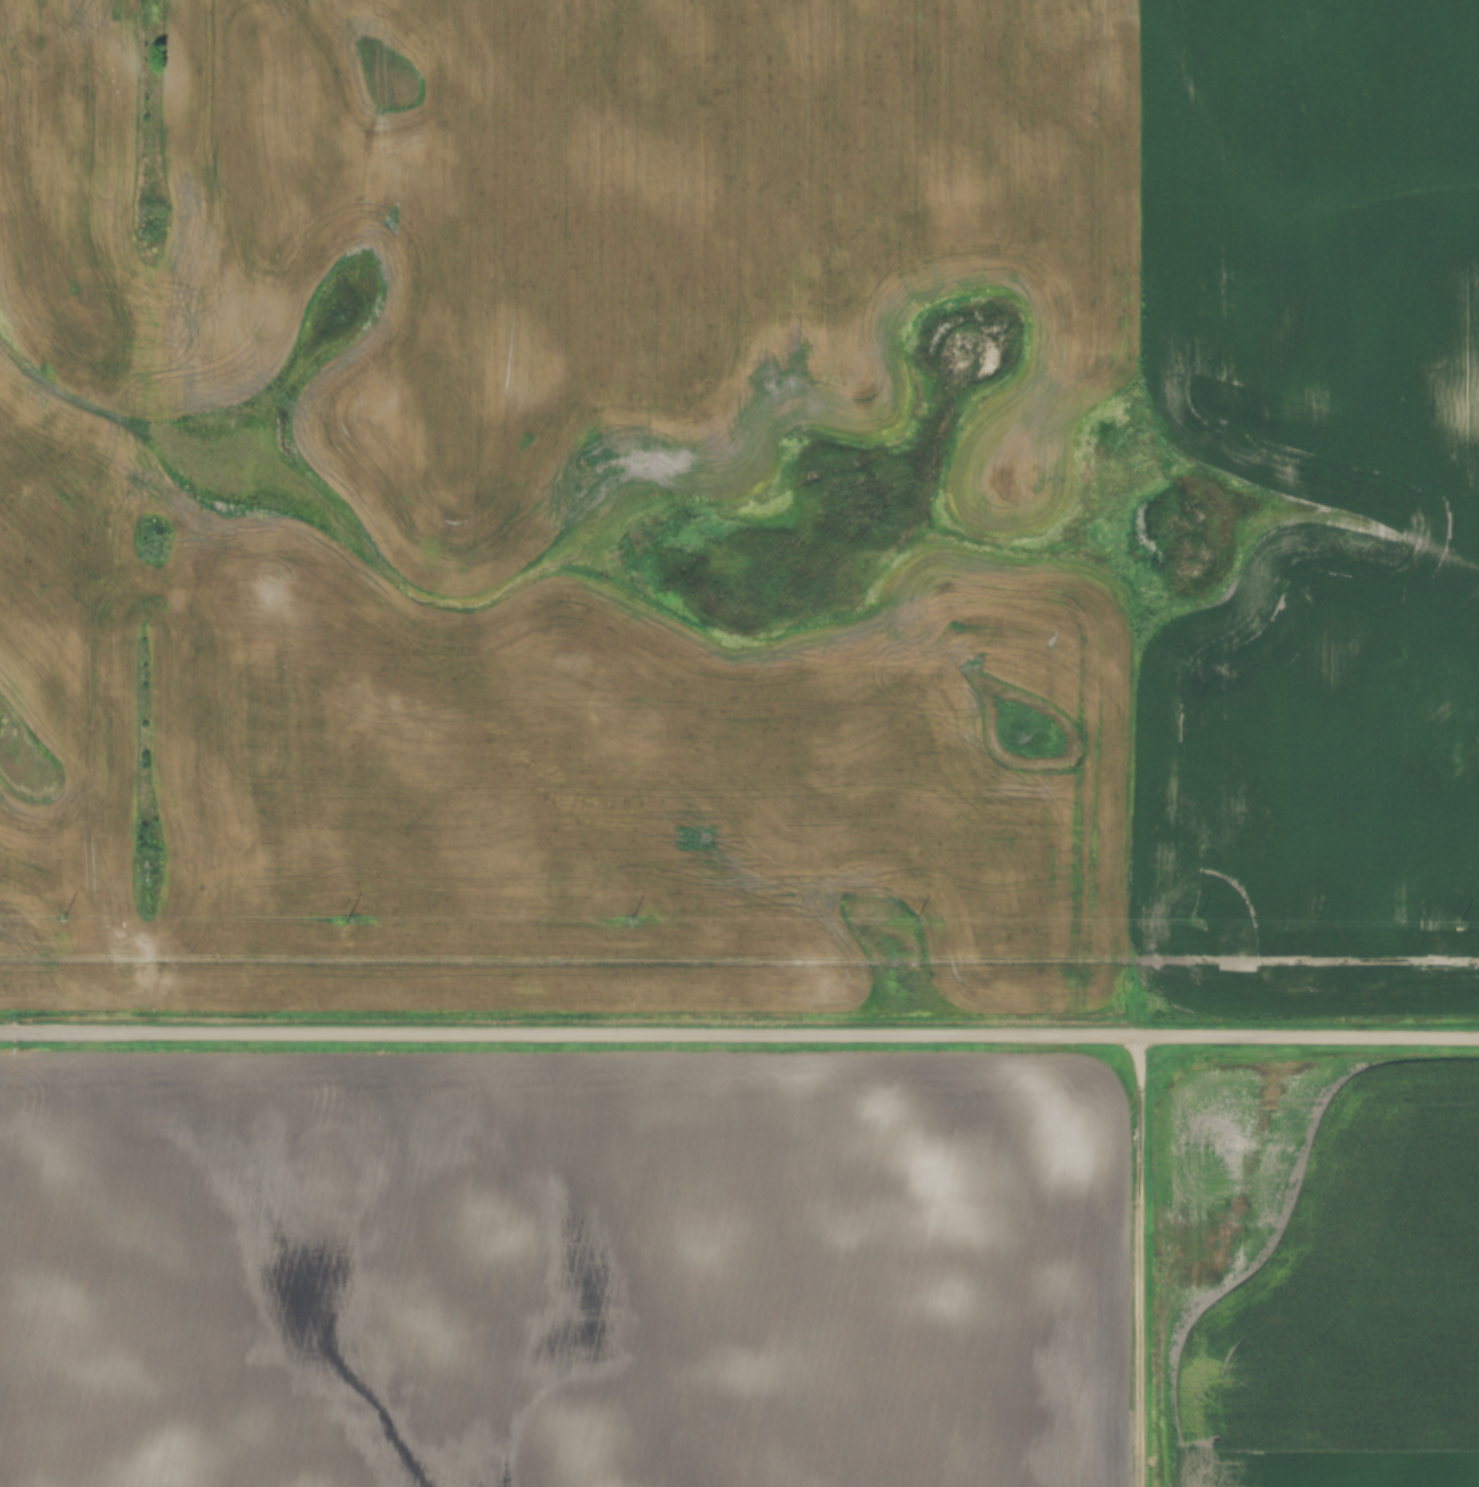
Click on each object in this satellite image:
road: (739, 1040)
road: (1138, 1264)

